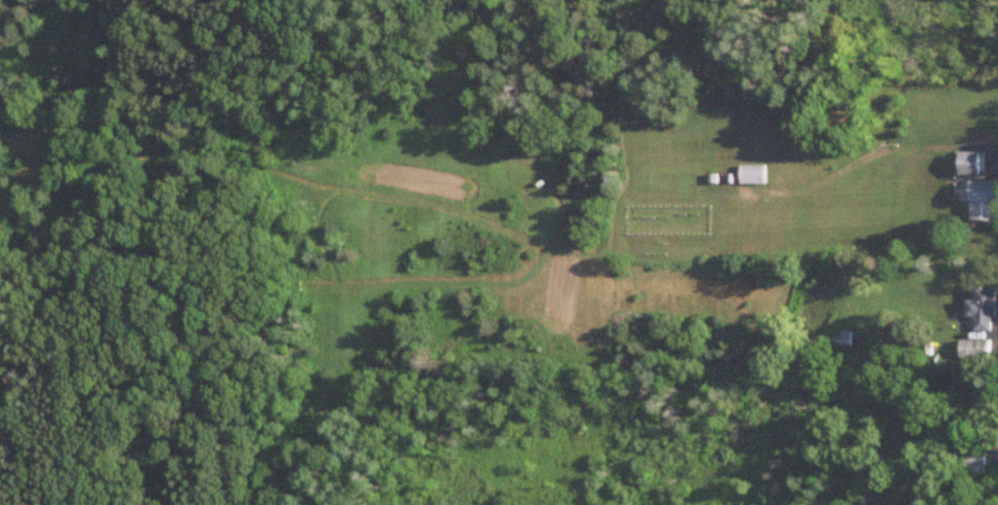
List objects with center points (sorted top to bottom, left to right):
building: (970, 164)
building: (754, 175)
building: (984, 202)
building: (982, 310)
building: (841, 340)
building: (975, 351)
building: (973, 464)
building: (876, 501)

